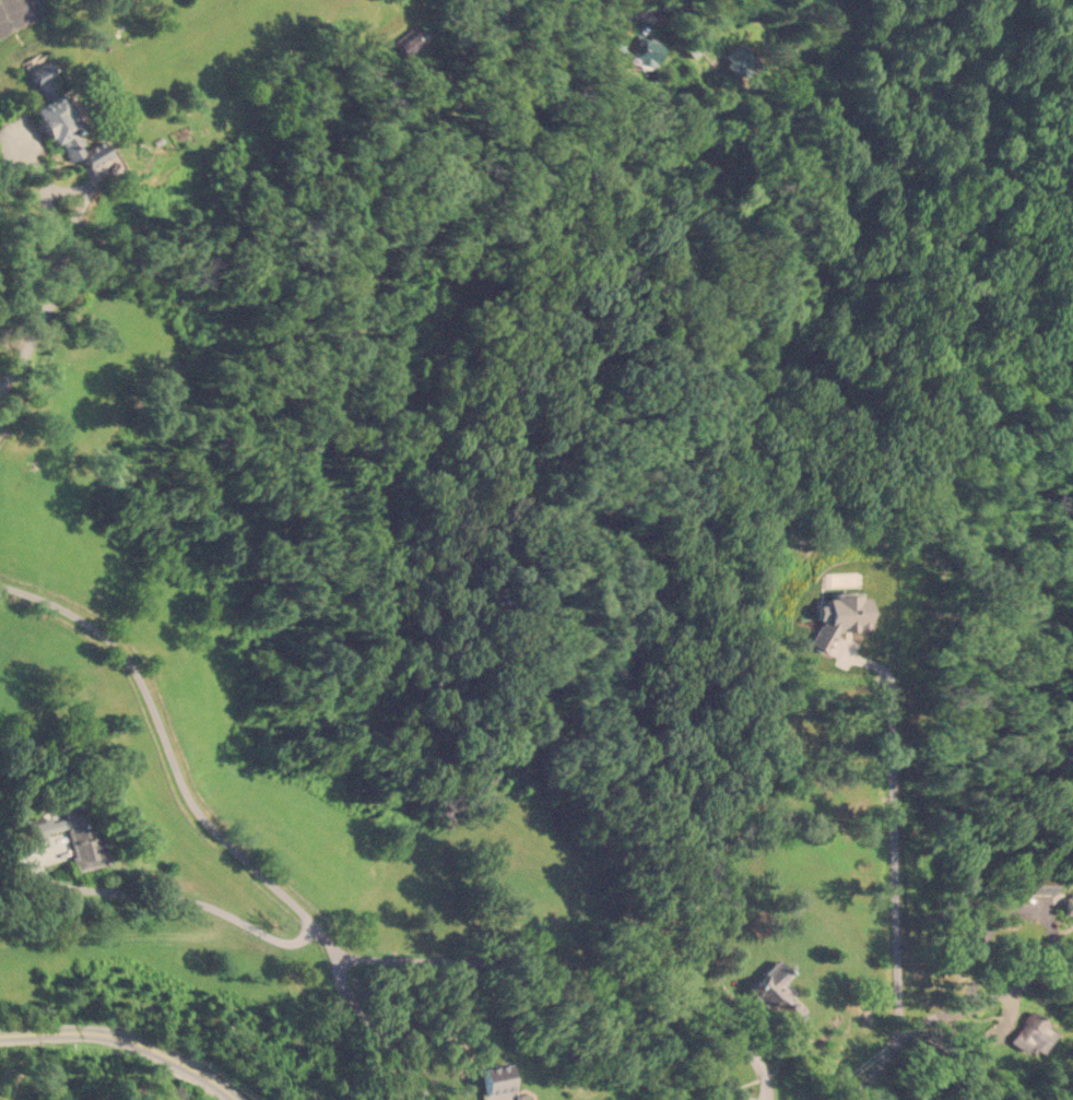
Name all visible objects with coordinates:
road: (646, 14)
building: (410, 39)
building: (736, 59)
building: (62, 121)
road: (62, 189)
road: (33, 330)
building: (838, 616)
road: (172, 758)
building: (71, 832)
road: (886, 868)
building: (1041, 884)
building: (1069, 904)
road: (192, 909)
road: (991, 919)
road: (574, 987)
building: (776, 991)
road: (373, 1031)
building: (1031, 1031)
road: (903, 1037)
road: (122, 1040)
building: (496, 1077)
building: (522, 1096)

